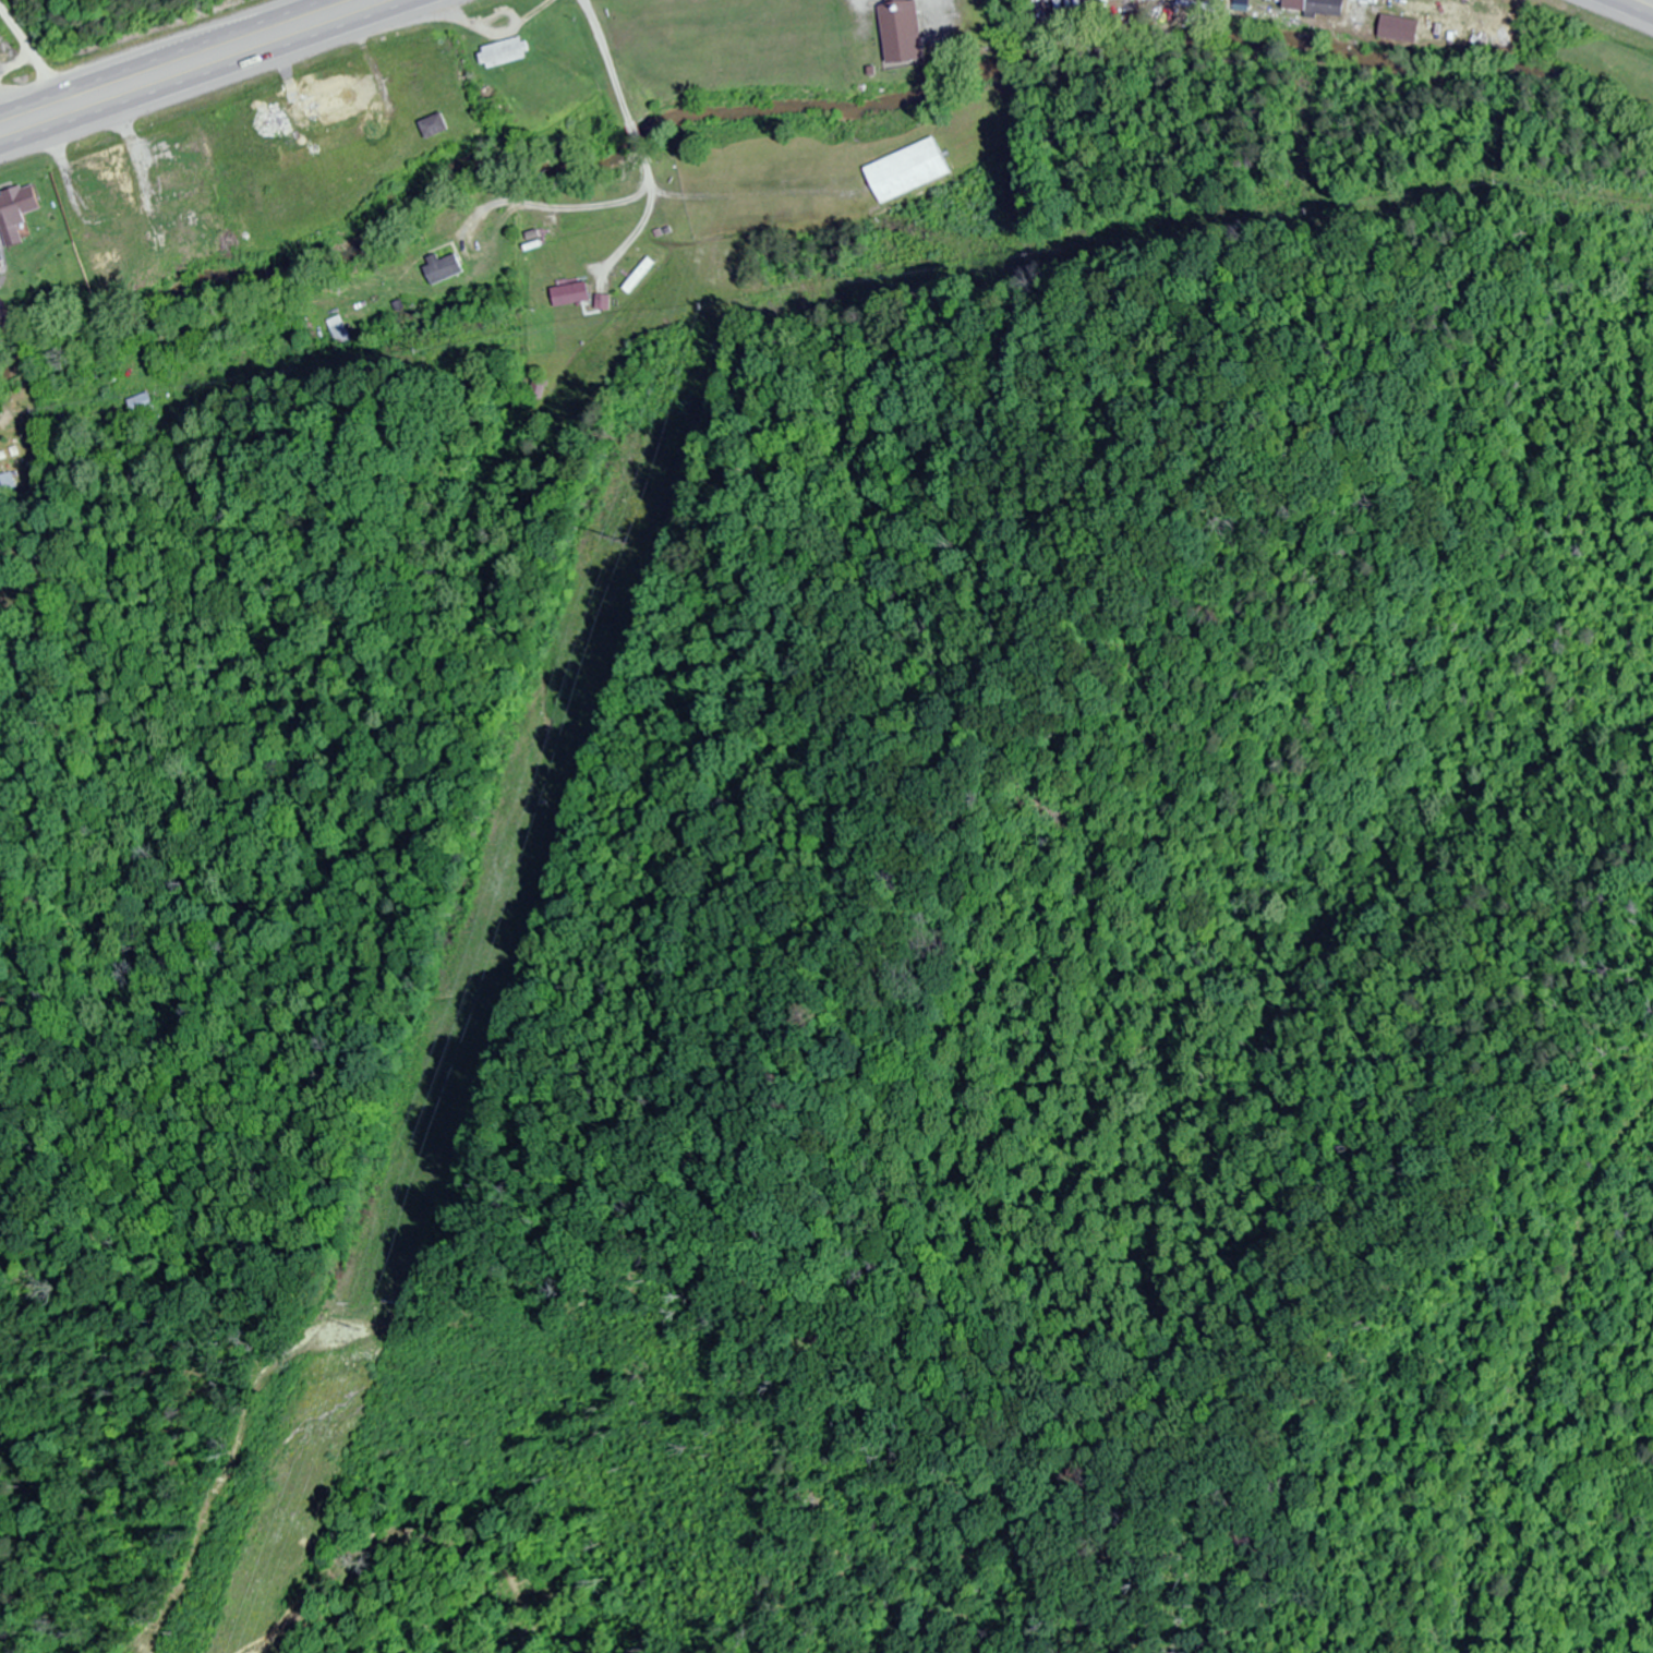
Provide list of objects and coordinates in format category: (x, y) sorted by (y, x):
building: (1134, 0)
building: (1186, 2)
building: (1316, 7)
building: (1058, 8)
road: (1626, 10)
building: (901, 32)
road: (28, 47)
building: (504, 53)
road: (157, 55)
road: (216, 76)
building: (321, 104)
building: (434, 126)
building: (174, 143)
building: (181, 165)
road: (647, 171)
building: (907, 172)
road: (143, 178)
building: (100, 184)
building: (108, 208)
building: (16, 213)
building: (102, 233)
building: (442, 268)
building: (638, 276)
building: (568, 294)
building: (341, 334)
building: (140, 405)
building: (9, 486)

